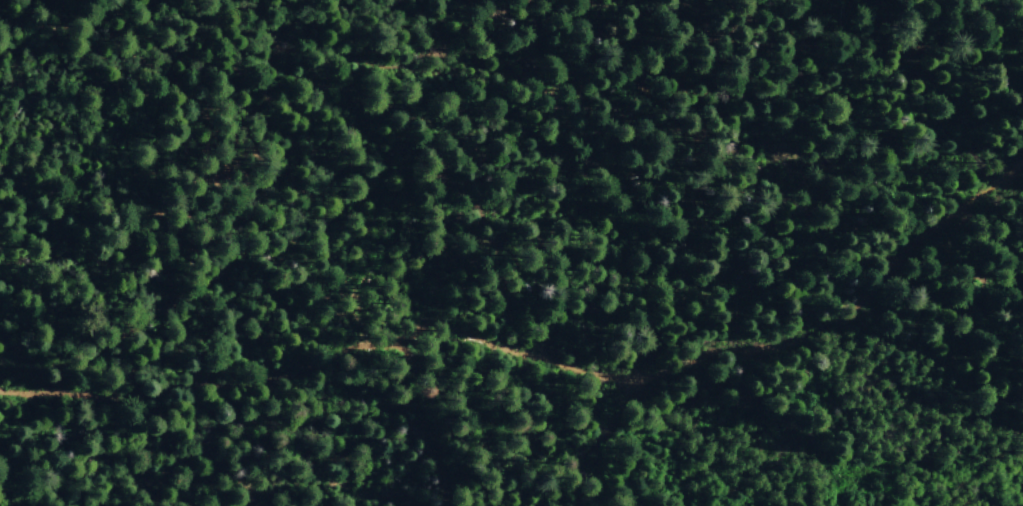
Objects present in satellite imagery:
road: (65, 34)
road: (173, 268)

